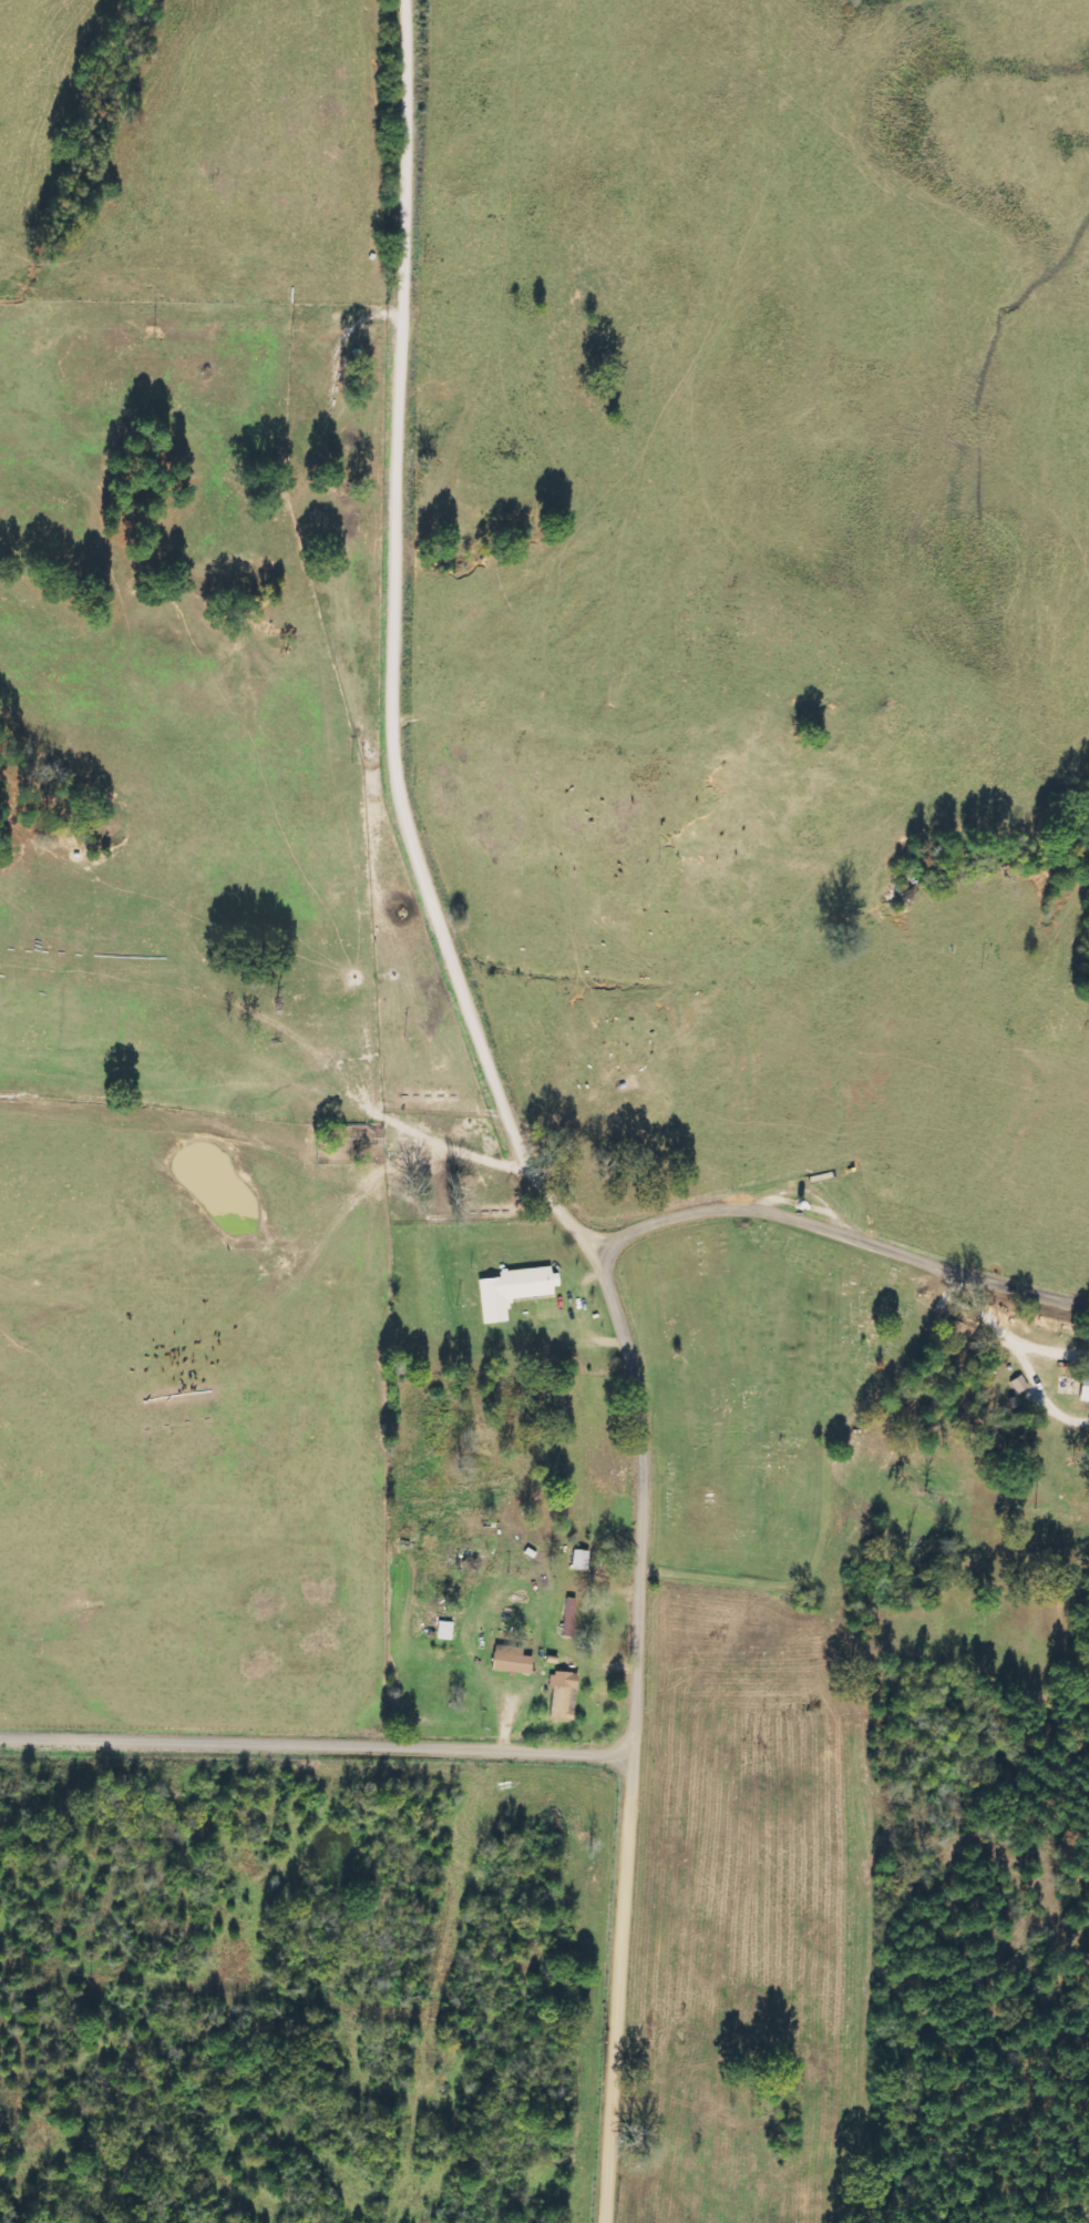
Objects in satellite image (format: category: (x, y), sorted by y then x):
road: (204, 305)
road: (516, 1119)
road: (325, 1124)
road: (443, 1153)
road: (843, 1231)
building: (512, 1291)
building: (1019, 1385)
park: (757, 1388)
building: (1083, 1388)
building: (579, 1559)
building: (510, 1660)
building: (563, 1695)
road: (320, 1744)

